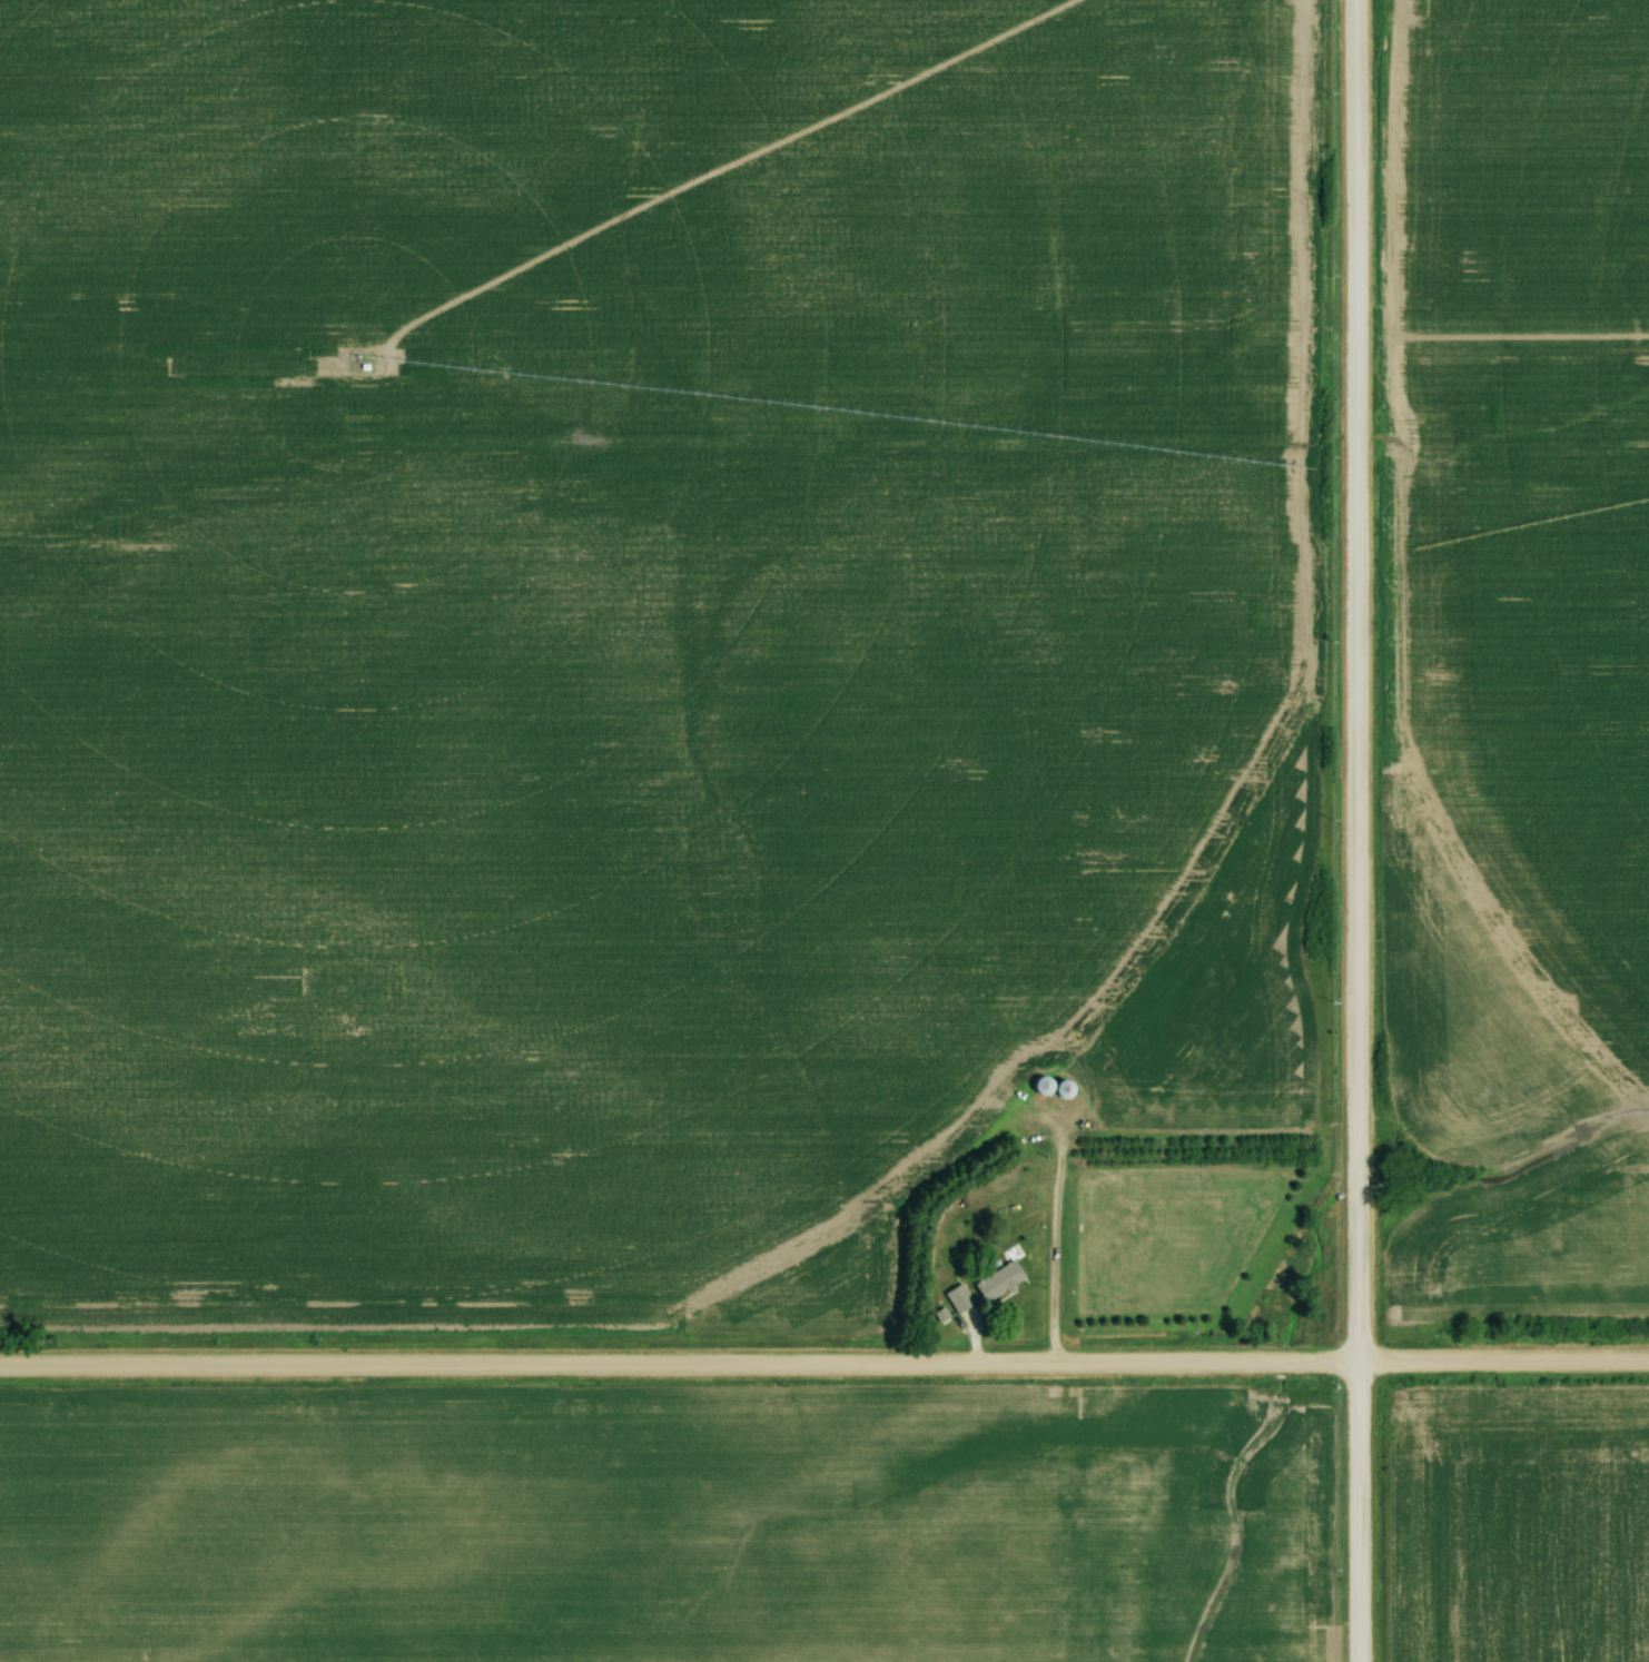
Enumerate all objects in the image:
road: (1354, 831)
building: (1062, 1090)
road: (1053, 1249)
building: (997, 1280)
building: (957, 1298)
road: (824, 1366)

